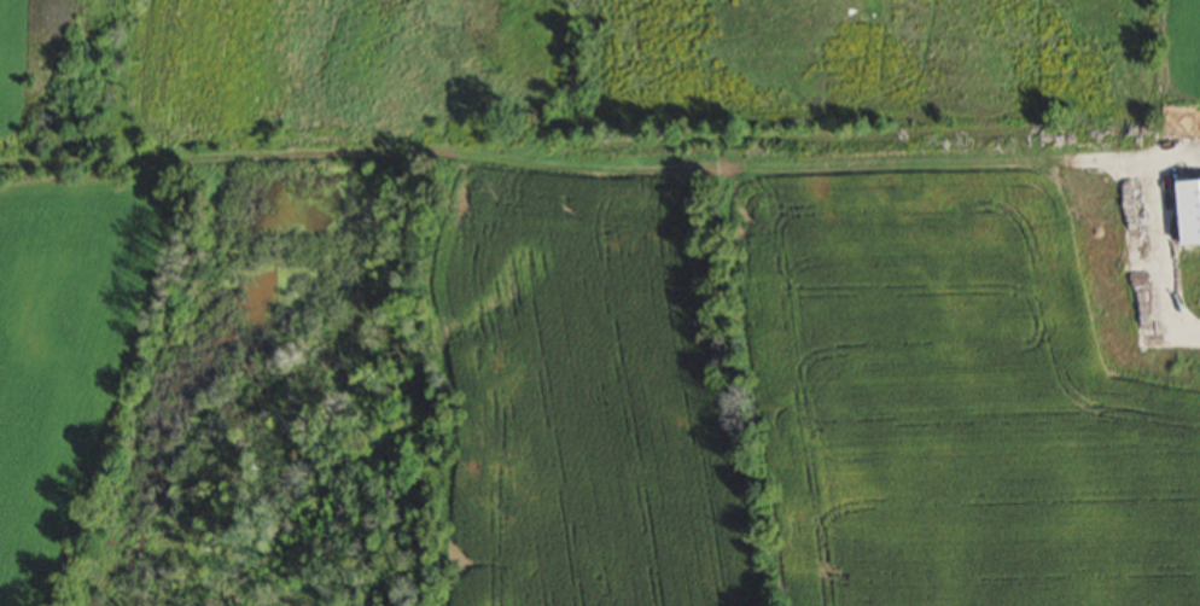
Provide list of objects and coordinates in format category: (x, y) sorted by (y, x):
road: (1157, 233)

